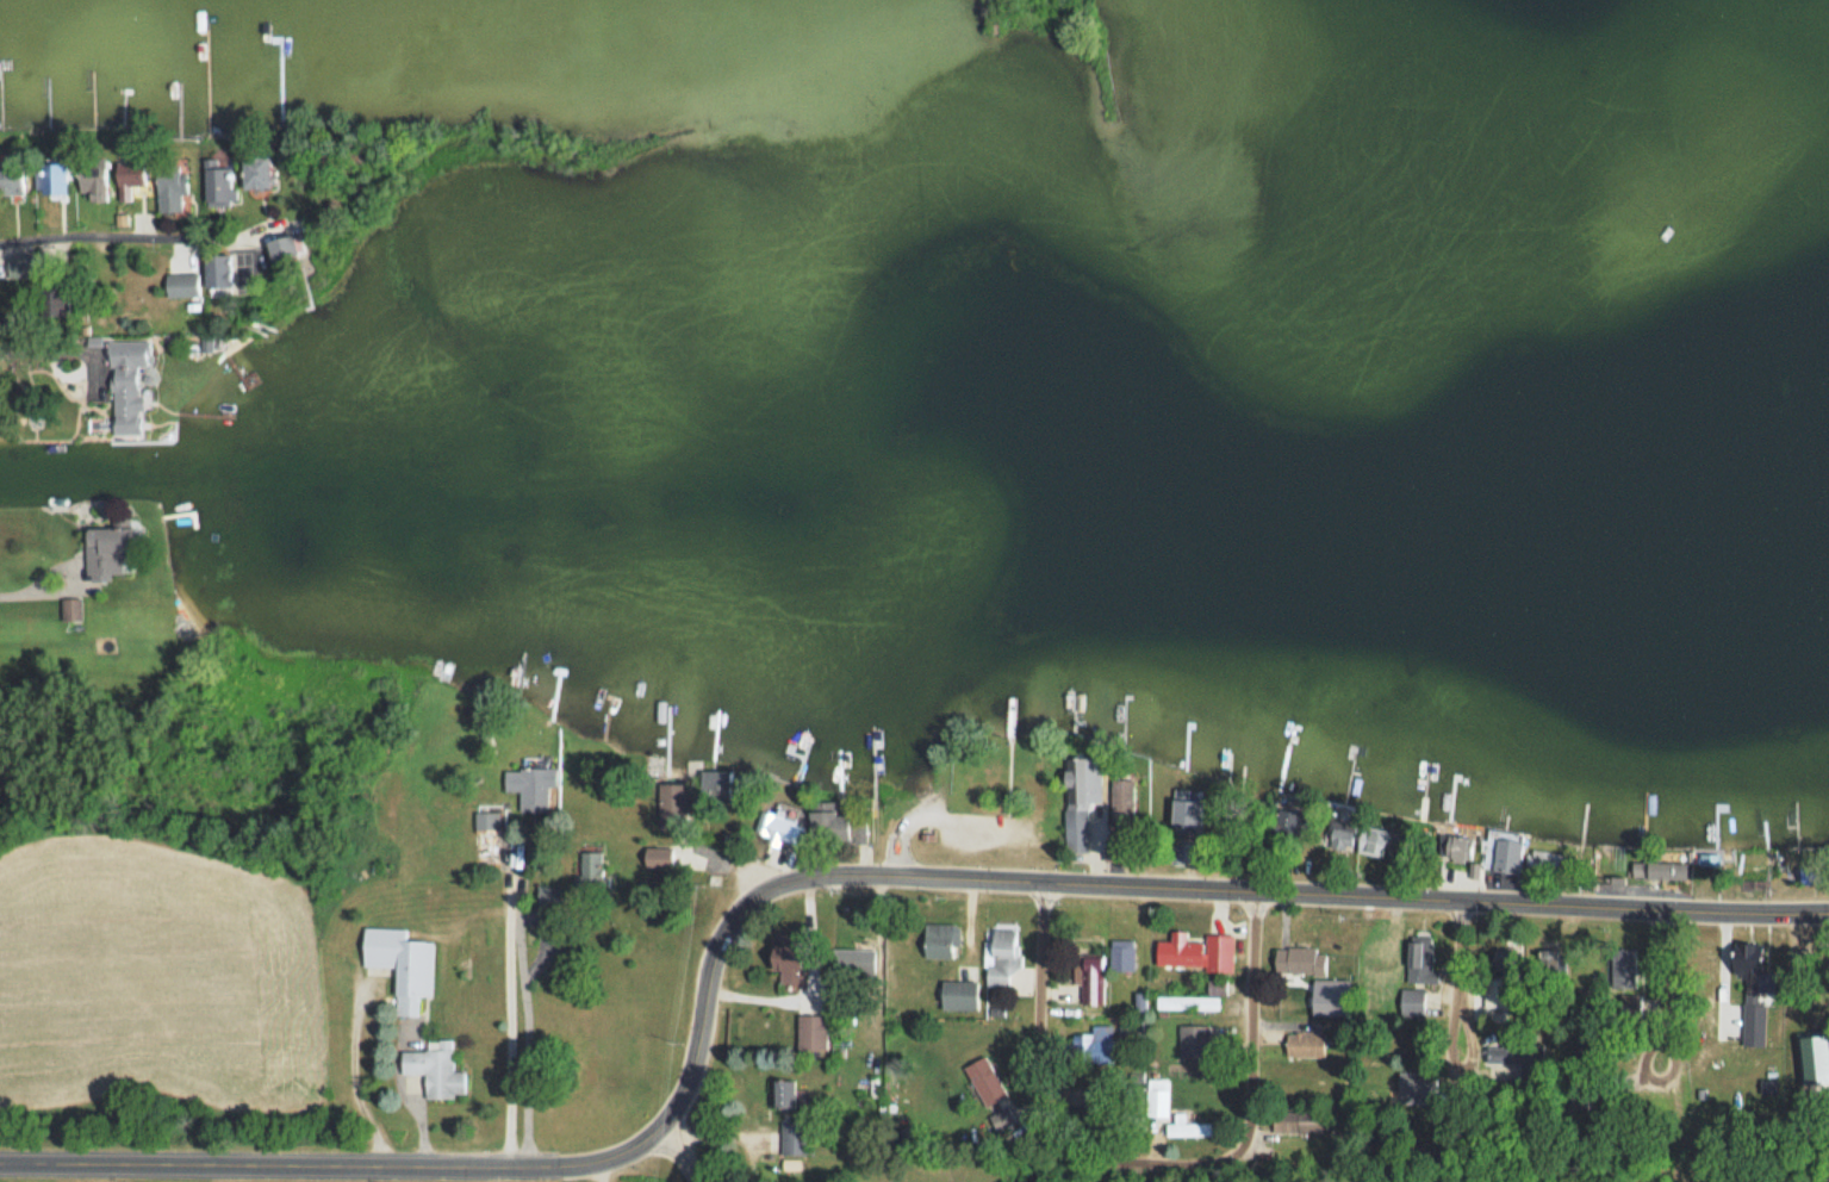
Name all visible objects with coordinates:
building: (255, 172)
building: (57, 176)
building: (10, 179)
building: (129, 179)
building: (92, 180)
building: (219, 186)
building: (170, 188)
road: (201, 237)
road: (60, 238)
building: (218, 272)
road: (56, 353)
building: (43, 381)
building: (125, 385)
building: (107, 545)
road: (41, 585)
building: (1083, 777)
building: (713, 779)
building: (529, 785)
building: (1121, 800)
building: (1188, 811)
building: (834, 825)
building: (487, 835)
building: (1456, 848)
building: (1503, 856)
building: (1669, 858)
building: (1545, 864)
building: (589, 870)
road: (1162, 883)
building: (940, 941)
building: (1178, 951)
building: (1506, 952)
building: (1001, 953)
building: (1218, 953)
building: (1121, 954)
building: (1420, 954)
building: (785, 958)
building: (1743, 958)
building: (1299, 960)
building: (400, 964)
building: (1550, 966)
building: (1620, 977)
building: (1089, 978)
building: (1495, 994)
building: (958, 996)
building: (1194, 999)
building: (1411, 1001)
road: (1040, 1012)
road: (525, 1015)
road: (1468, 1018)
building: (1130, 1029)
building: (810, 1032)
road: (1662, 1033)
building: (1193, 1040)
building: (1090, 1044)
building: (1305, 1044)
building: (1495, 1055)
building: (434, 1071)
road: (354, 1072)
building: (991, 1093)
building: (783, 1094)
building: (1157, 1097)
road: (1250, 1115)
building: (1300, 1121)
building: (1193, 1127)
building: (792, 1136)
road: (677, 1144)
road: (1661, 1162)
road: (334, 1165)
road: (695, 1171)

